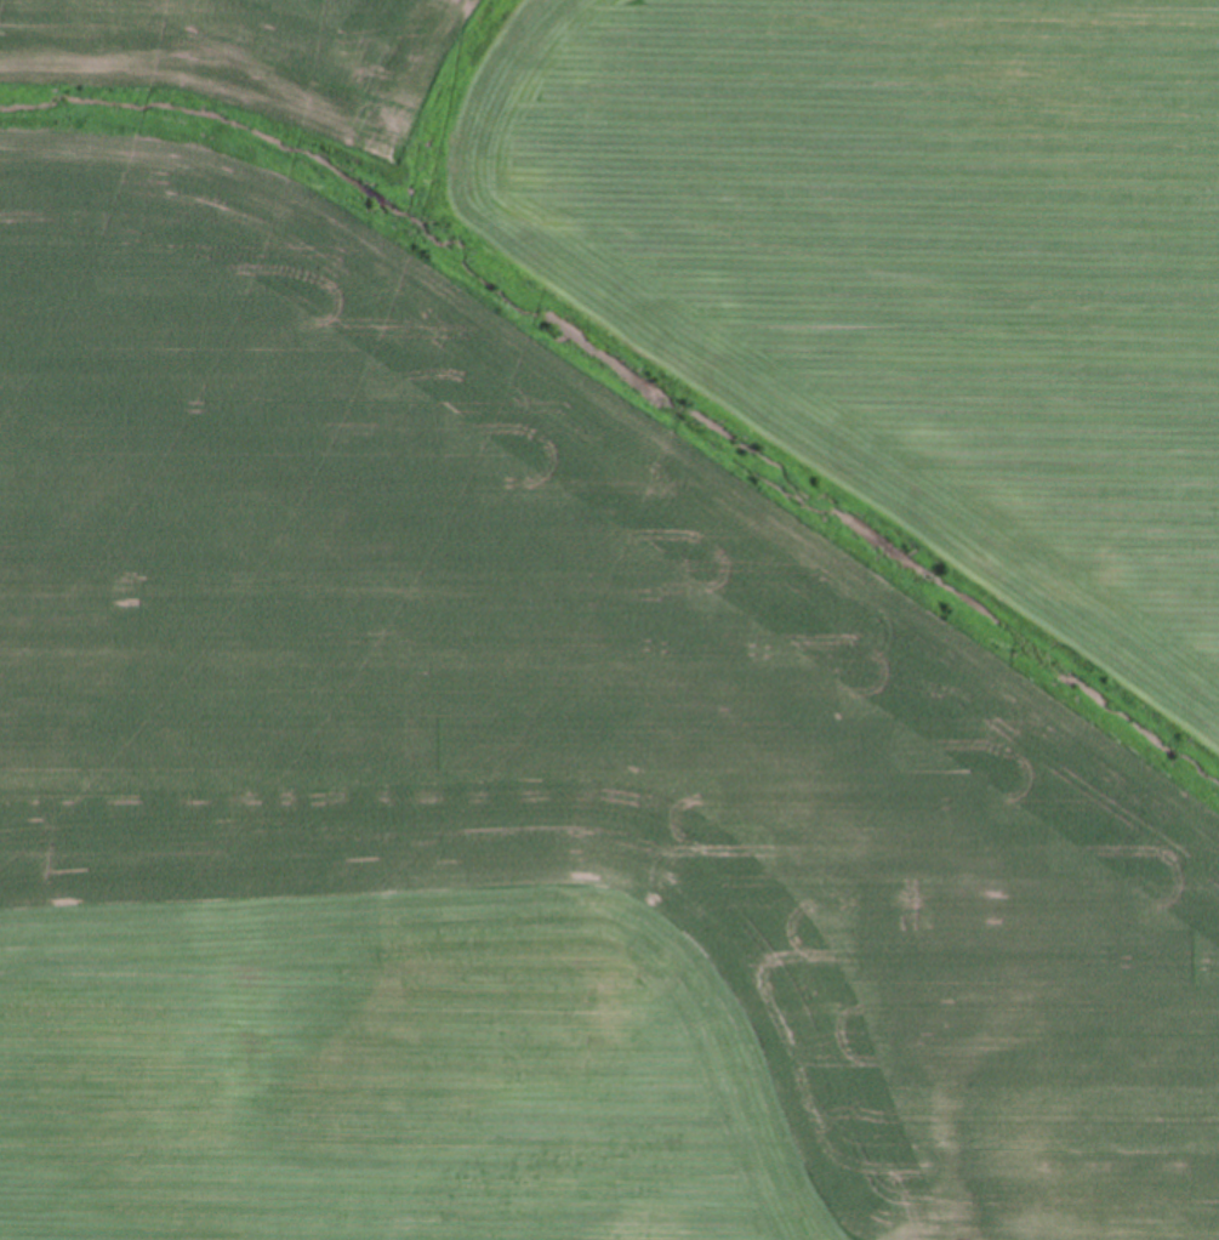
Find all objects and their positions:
crop: (609, 620)

